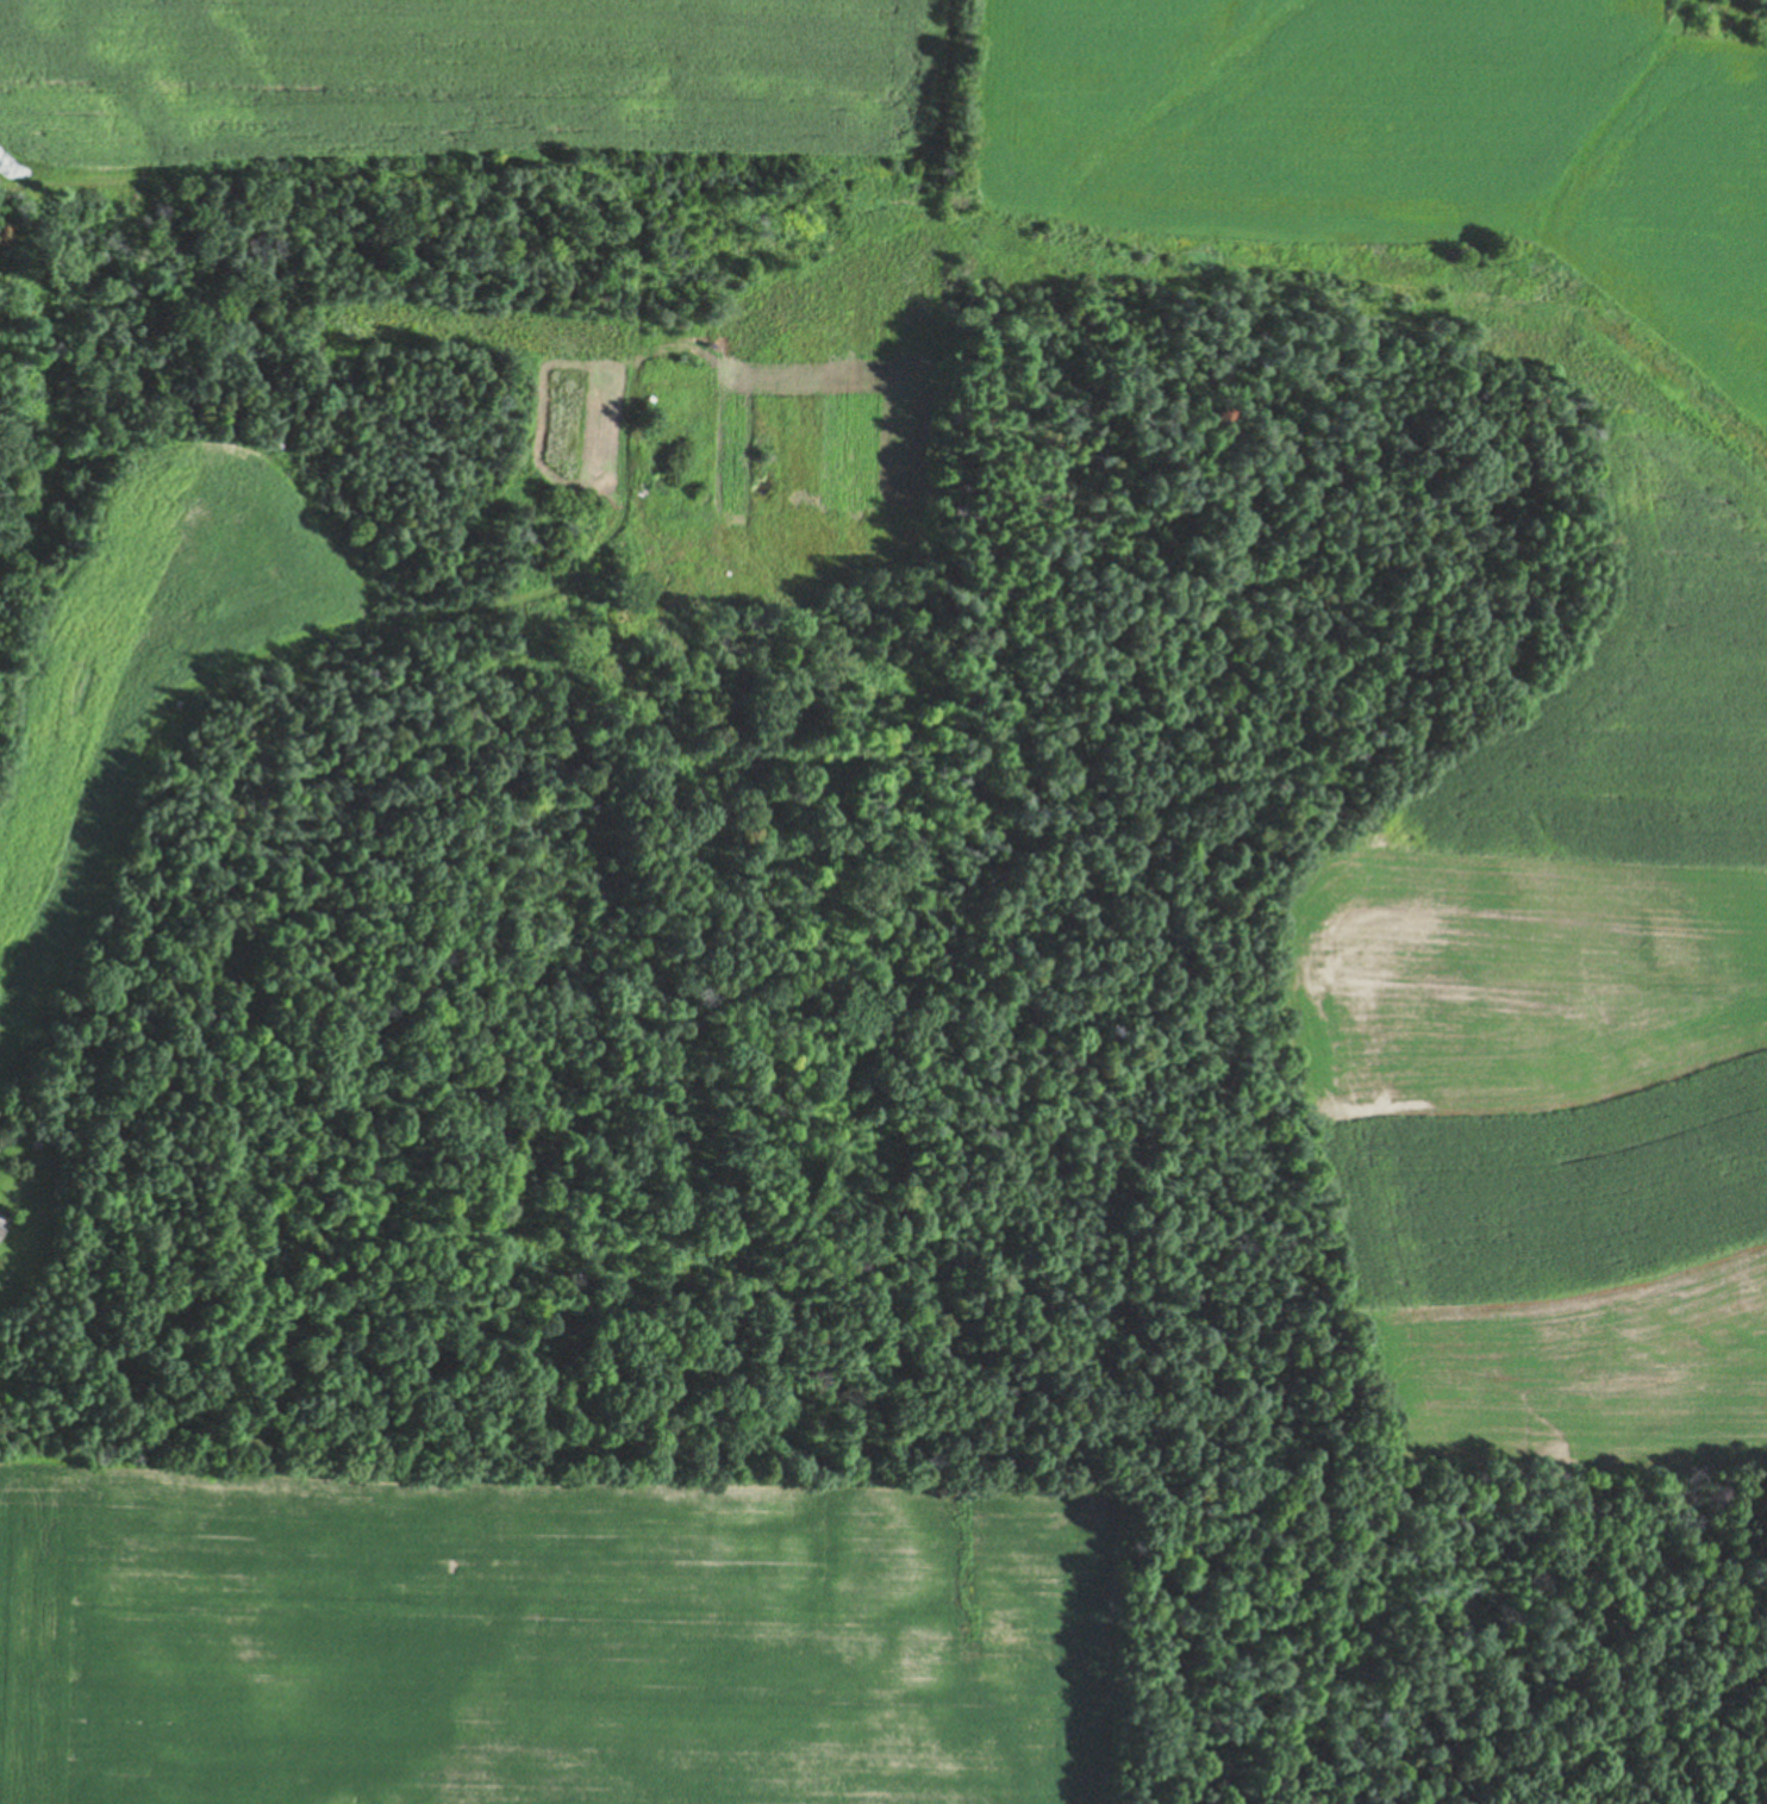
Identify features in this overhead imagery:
building: (1, 1232)

